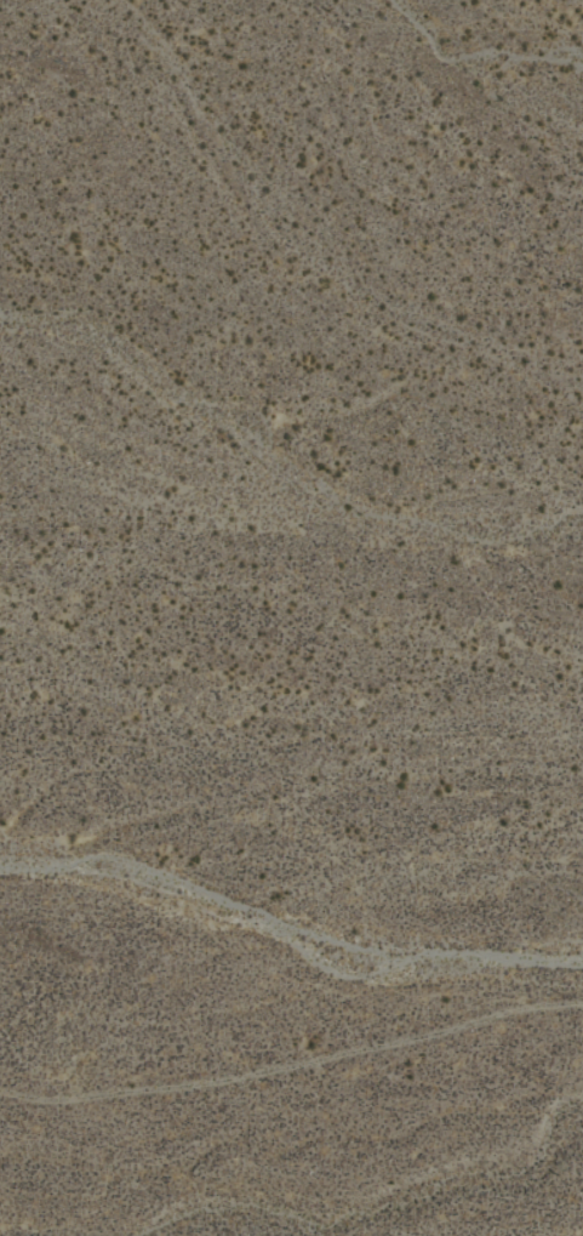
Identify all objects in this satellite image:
road: (293, 1060)

